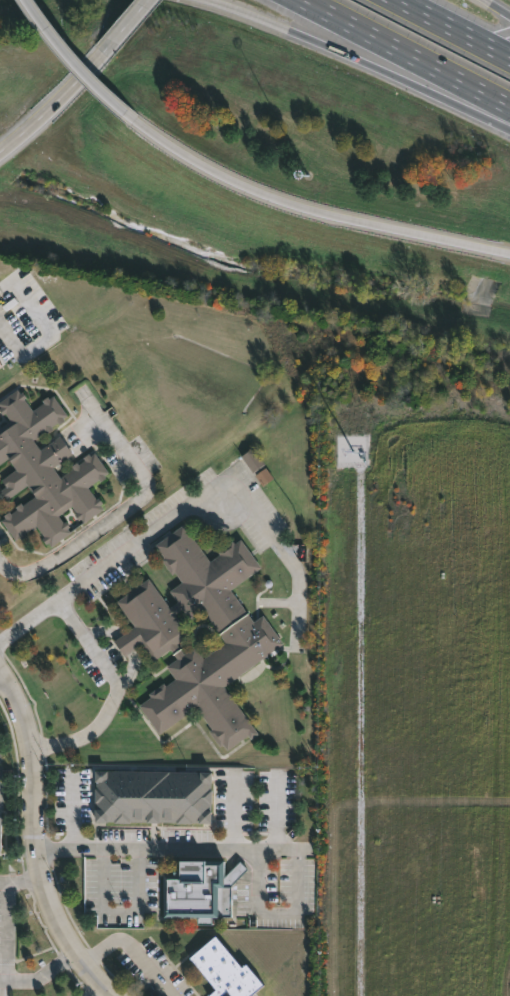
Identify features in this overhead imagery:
road: (496, 8)
road: (139, 22)
road: (454, 28)
road: (405, 53)
road: (344, 54)
road: (64, 58)
road: (62, 107)
road: (494, 122)
road: (303, 208)
road: (12, 336)
building: (0, 366)
building: (253, 460)
building: (44, 470)
road: (186, 507)
road: (117, 512)
building: (152, 637)
road: (119, 696)
building: (154, 797)
road: (232, 811)
road: (70, 812)
road: (276, 812)
building: (0, 832)
road: (35, 845)
road: (165, 848)
road: (20, 880)
building: (201, 890)
road: (119, 911)
road: (277, 912)
road: (130, 948)
building: (227, 971)
road: (38, 976)
road: (96, 991)

